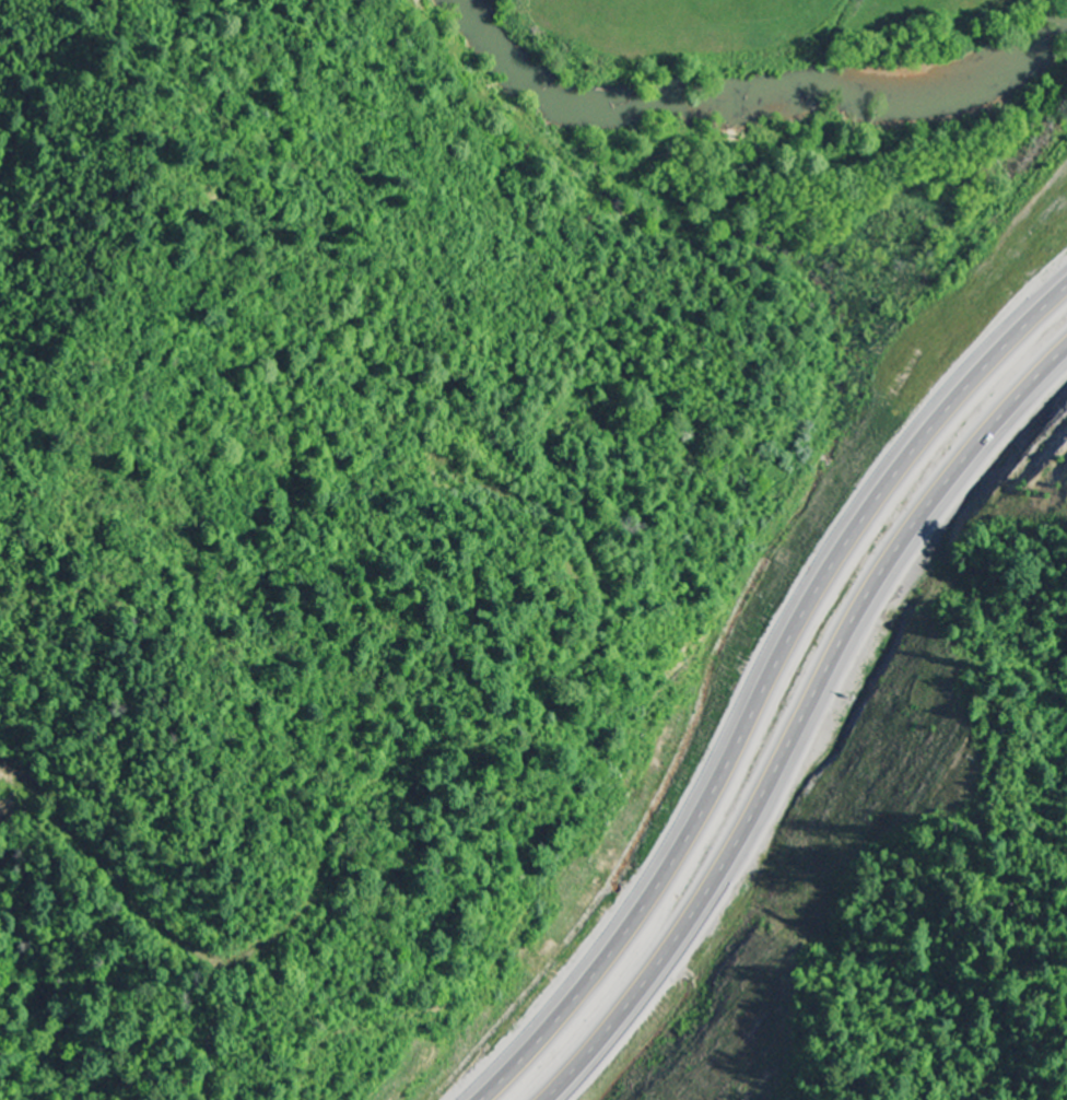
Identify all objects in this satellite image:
river: (755, 93)
road: (778, 689)
road: (804, 722)

